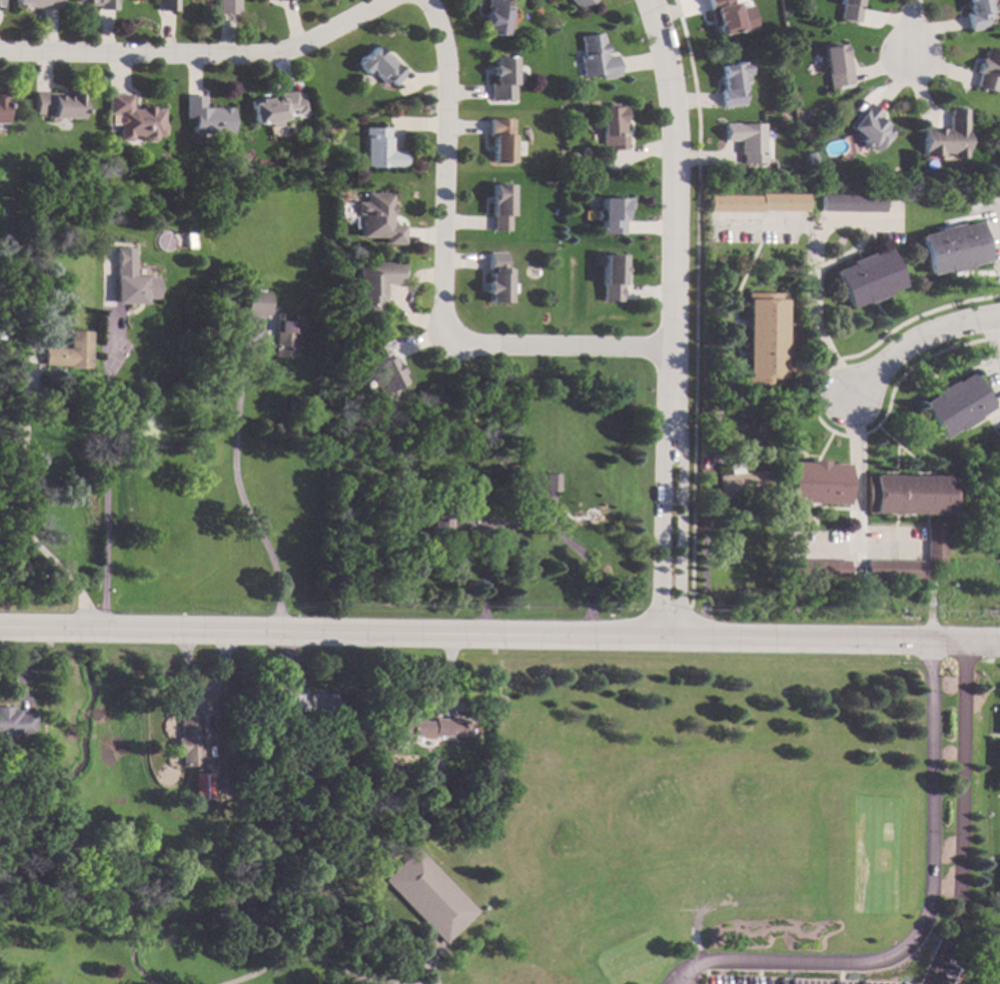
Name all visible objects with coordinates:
building: (280, 0)
building: (38, 3)
building: (101, 3)
building: (581, 4)
building: (167, 5)
building: (229, 6)
building: (996, 8)
building: (848, 10)
building: (976, 14)
building: (496, 16)
building: (727, 17)
road: (911, 28)
building: (596, 57)
road: (201, 58)
building: (378, 66)
building: (836, 66)
building: (988, 71)
building: (502, 79)
building: (733, 83)
building: (57, 103)
building: (275, 107)
building: (2, 110)
building: (206, 116)
building: (134, 118)
building: (871, 126)
building: (612, 127)
building: (945, 137)
building: (500, 138)
building: (747, 140)
building: (379, 149)
building: (758, 202)
building: (853, 203)
building: (500, 207)
road: (999, 214)
building: (612, 216)
building: (379, 218)
building: (952, 248)
building: (611, 277)
building: (867, 278)
building: (133, 279)
building: (496, 279)
road: (441, 280)
building: (372, 285)
building: (258, 303)
road: (672, 314)
road: (811, 316)
building: (290, 333)
road: (916, 337)
road: (993, 337)
building: (765, 338)
building: (71, 352)
building: (381, 370)
building: (122, 388)
building: (954, 405)
building: (772, 414)
building: (507, 458)
building: (405, 459)
building: (979, 474)
building: (550, 483)
building: (815, 483)
building: (743, 485)
road: (107, 491)
road: (240, 492)
building: (911, 494)
road: (852, 501)
road: (28, 510)
building: (455, 524)
building: (934, 543)
road: (821, 549)
building: (956, 562)
road: (586, 566)
building: (815, 568)
road: (485, 578)
road: (500, 632)
building: (312, 703)
building: (15, 721)
building: (425, 727)
building: (187, 730)
building: (360, 746)
building: (40, 764)
building: (999, 768)
building: (203, 786)
road: (960, 815)
park: (610, 845)
building: (430, 895)
road: (922, 919)
road: (320, 958)
road: (427, 960)

